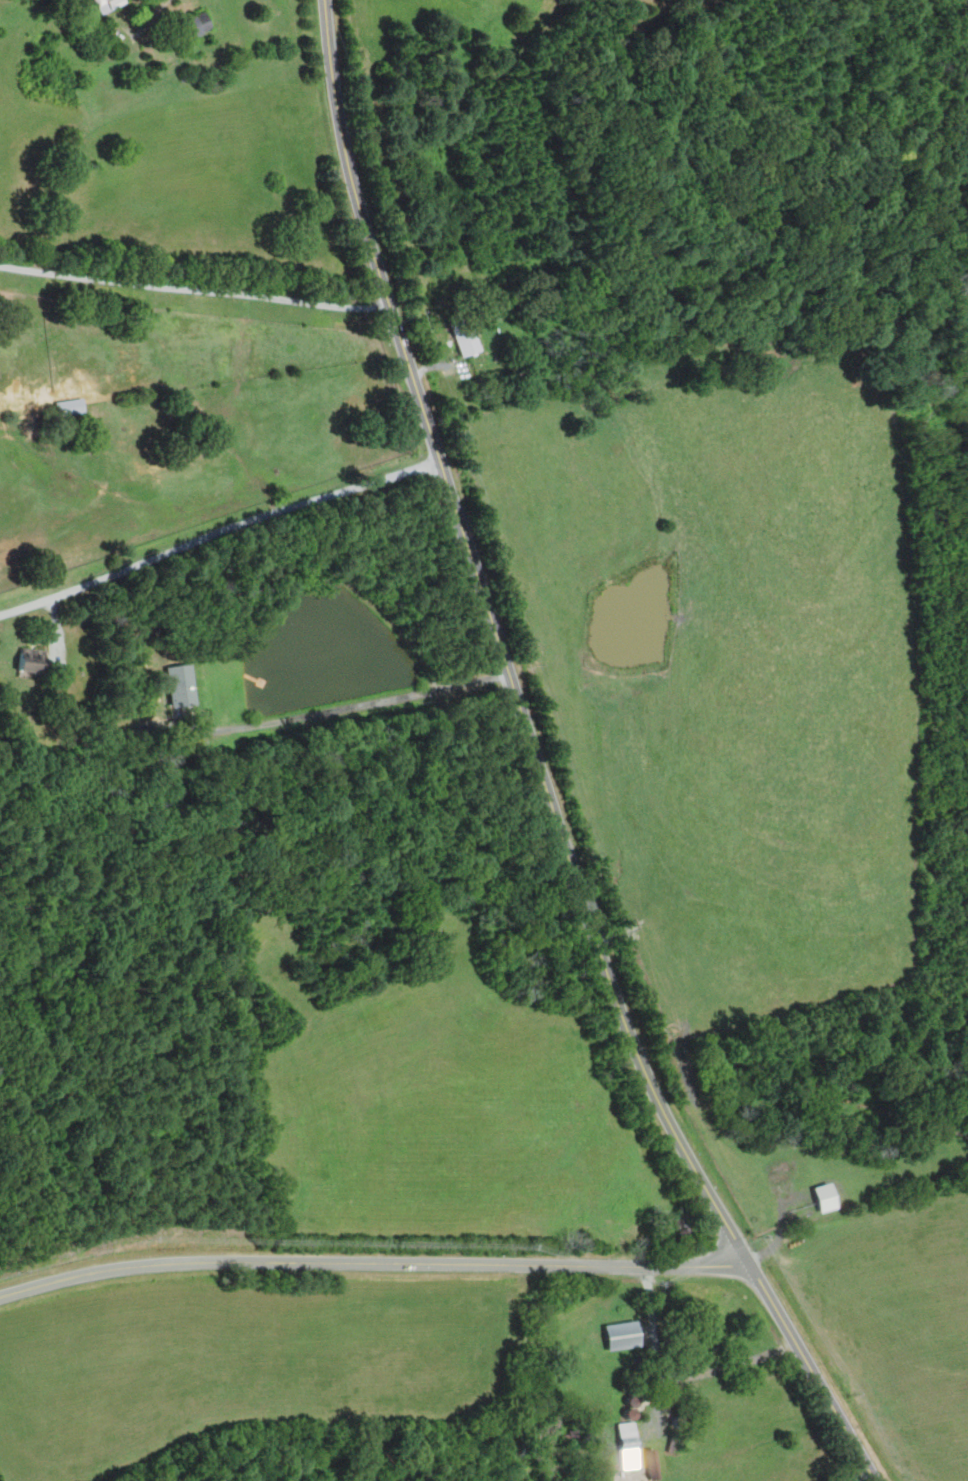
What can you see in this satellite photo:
building: (105, 5)
road: (147, 9)
building: (193, 26)
road: (194, 287)
building: (459, 334)
building: (69, 408)
road: (218, 531)
building: (33, 661)
building: (181, 686)
road: (357, 704)
road: (537, 764)
building: (823, 1196)
building: (683, 1225)
road: (373, 1261)
building: (625, 1334)
road: (677, 1376)
building: (627, 1438)
building: (651, 1462)

